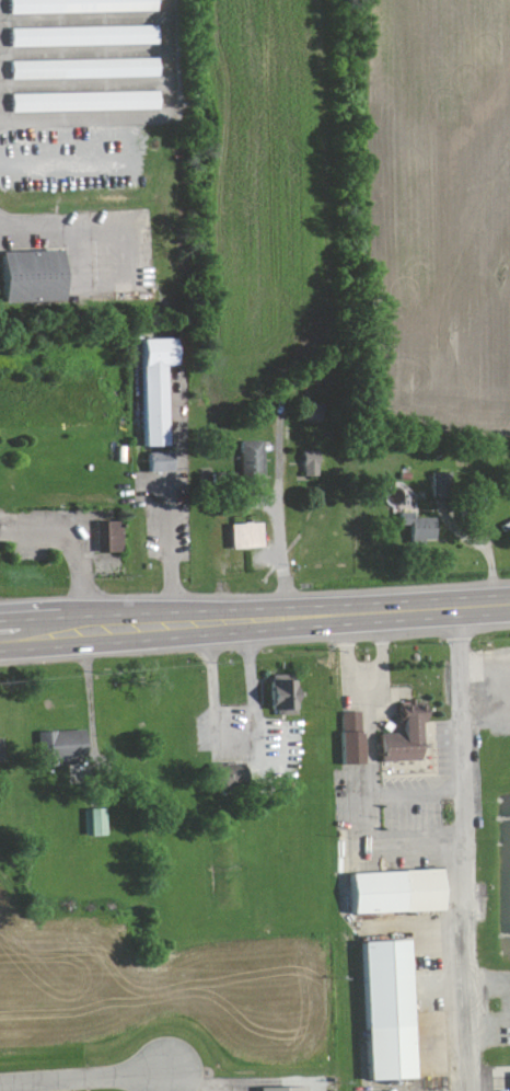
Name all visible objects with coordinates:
building: (82, 7)
building: (85, 36)
building: (84, 69)
building: (86, 102)
building: (36, 277)
building: (158, 388)
building: (313, 411)
building: (253, 456)
building: (162, 461)
building: (312, 462)
building: (444, 484)
road: (278, 516)
building: (420, 526)
building: (251, 535)
building: (112, 536)
road: (70, 543)
road: (170, 549)
road: (399, 612)
road: (146, 613)
road: (147, 641)
building: (288, 697)
building: (408, 734)
building: (355, 737)
road: (234, 740)
road: (368, 743)
building: (68, 745)
building: (96, 822)
road: (466, 850)
building: (394, 892)
building: (384, 1011)
road: (83, 1079)
road: (60, 1086)
building: (279, 1089)

